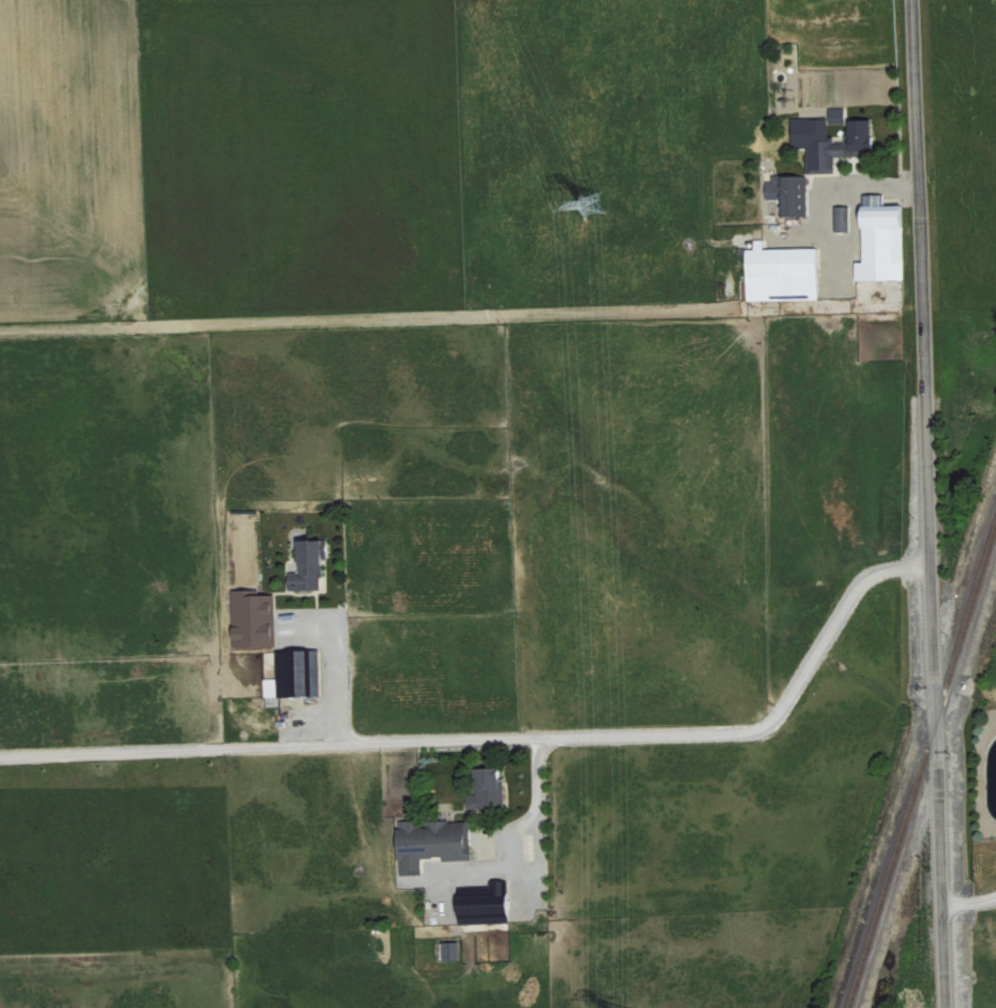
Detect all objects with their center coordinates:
building: (839, 114)
building: (841, 146)
building: (790, 193)
power tower: (596, 212)
building: (843, 218)
building: (883, 239)
building: (783, 272)
road: (928, 504)
building: (311, 567)
building: (255, 619)
building: (296, 674)
road: (334, 680)
road: (508, 739)
railway: (923, 766)
building: (489, 789)
road: (520, 831)
building: (433, 842)
road: (970, 904)
building: (487, 909)
building: (453, 950)
power tower: (626, 989)

